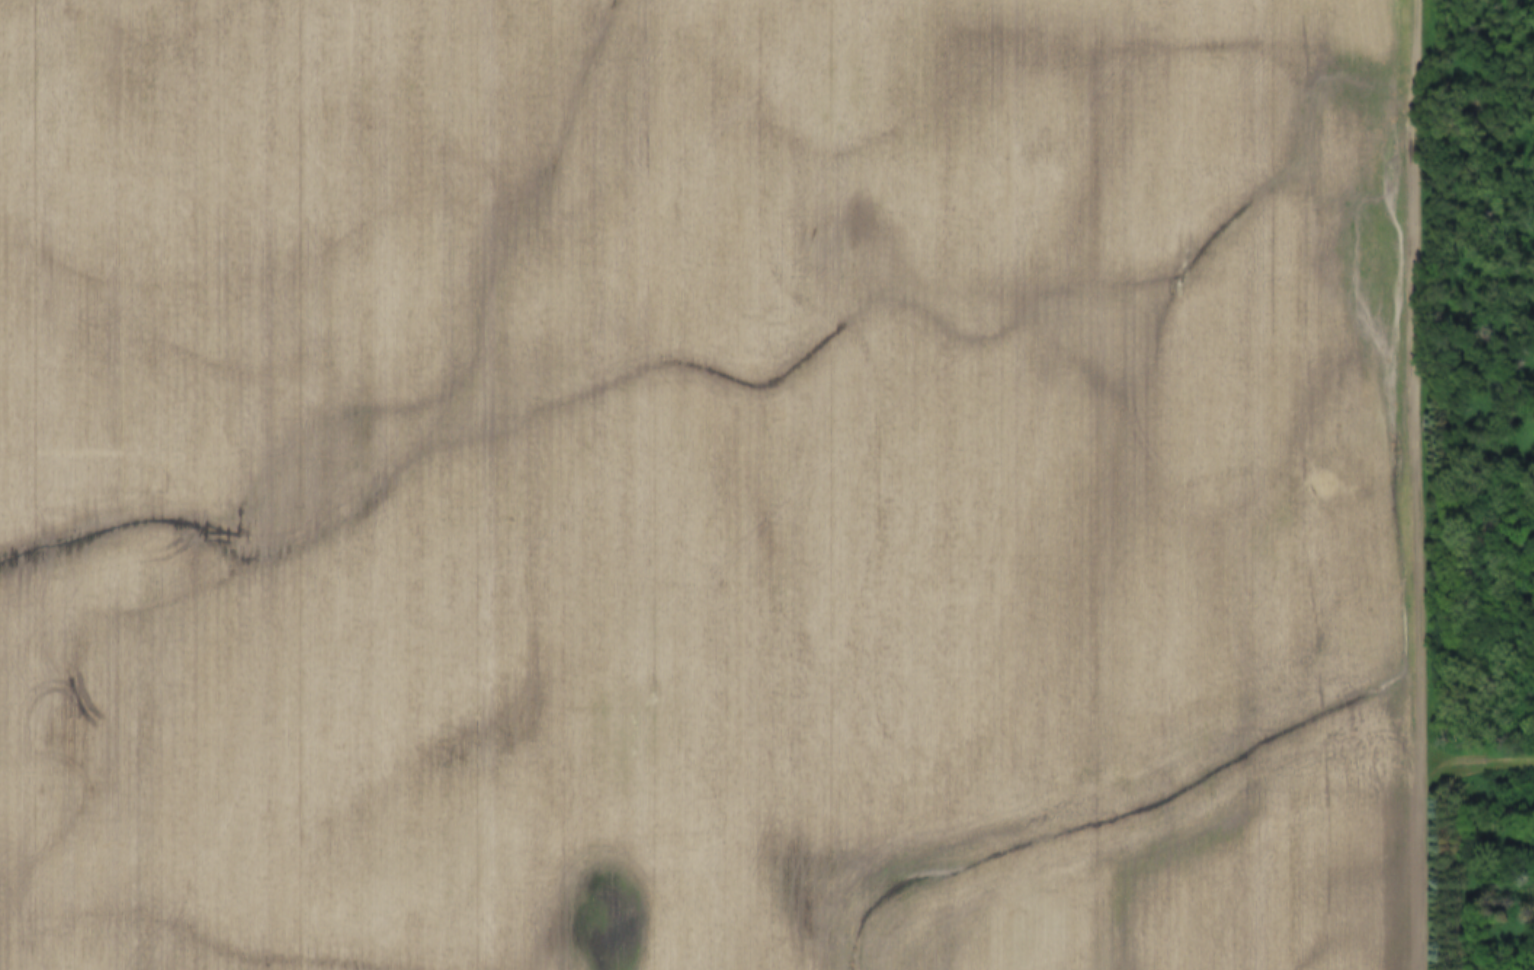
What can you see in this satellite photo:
road: (1414, 484)
road: (1477, 760)

